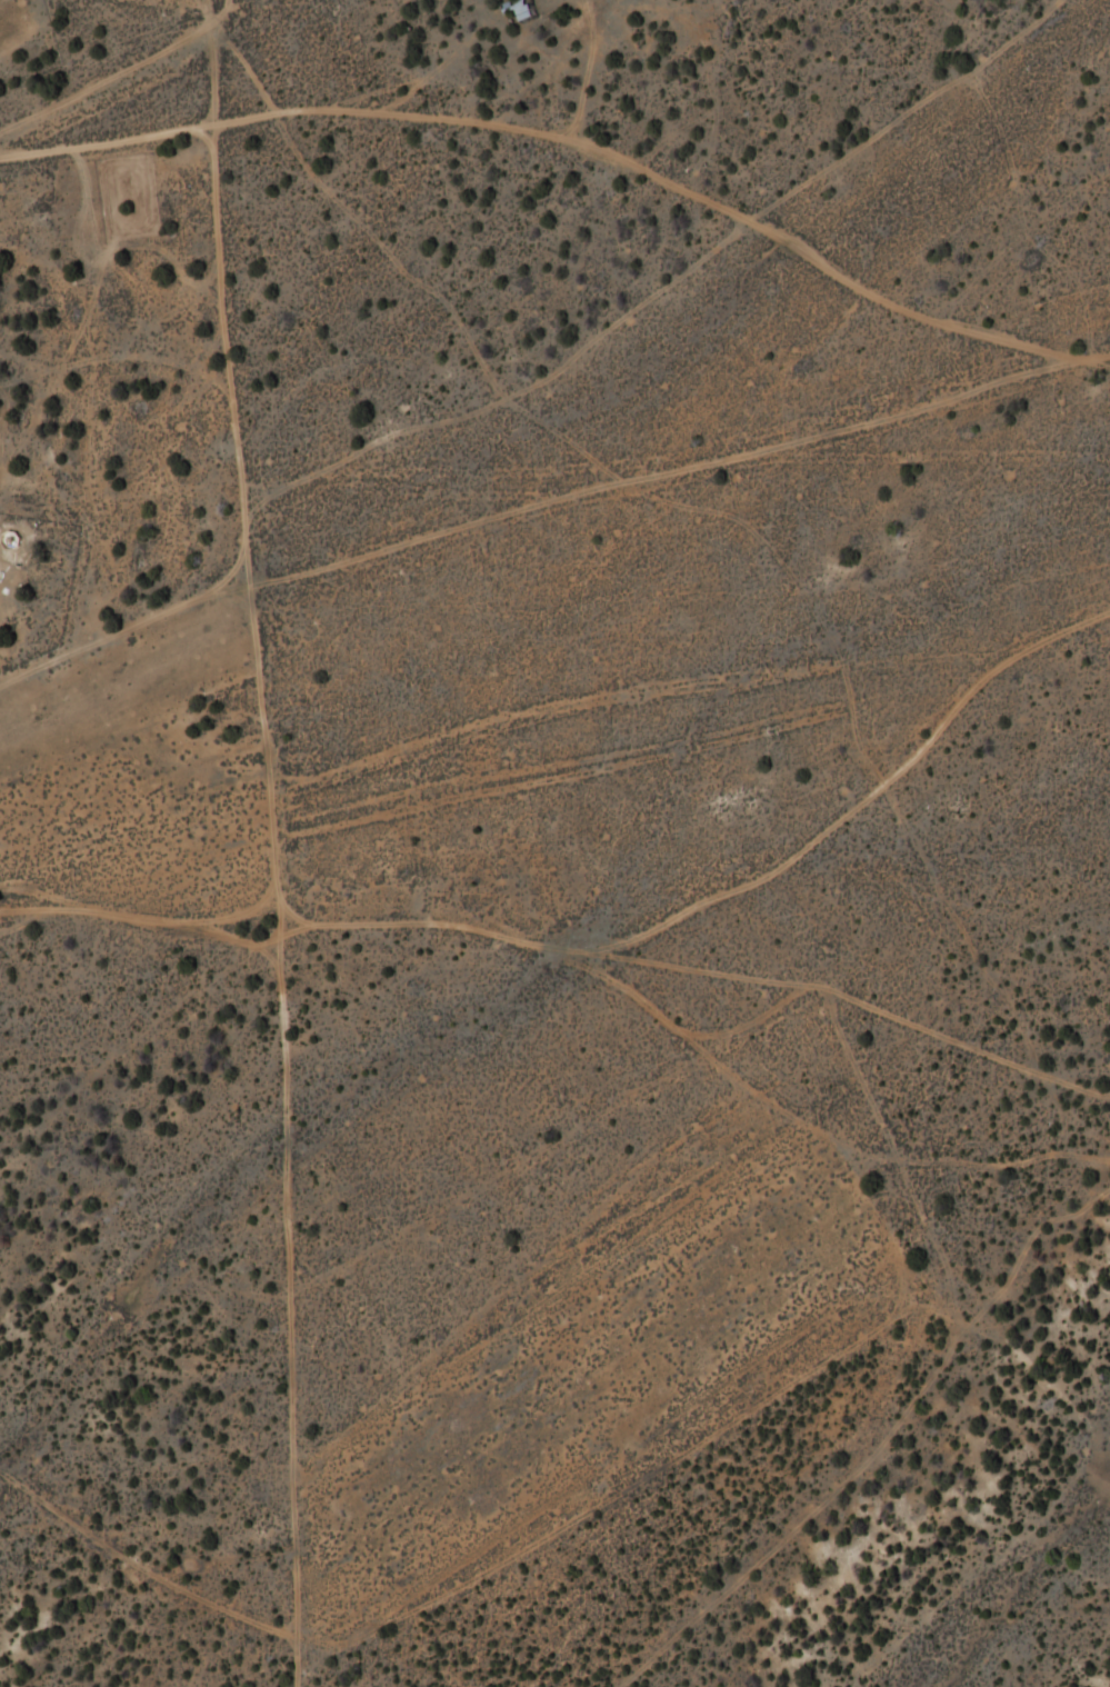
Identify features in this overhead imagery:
road: (876, 1443)

